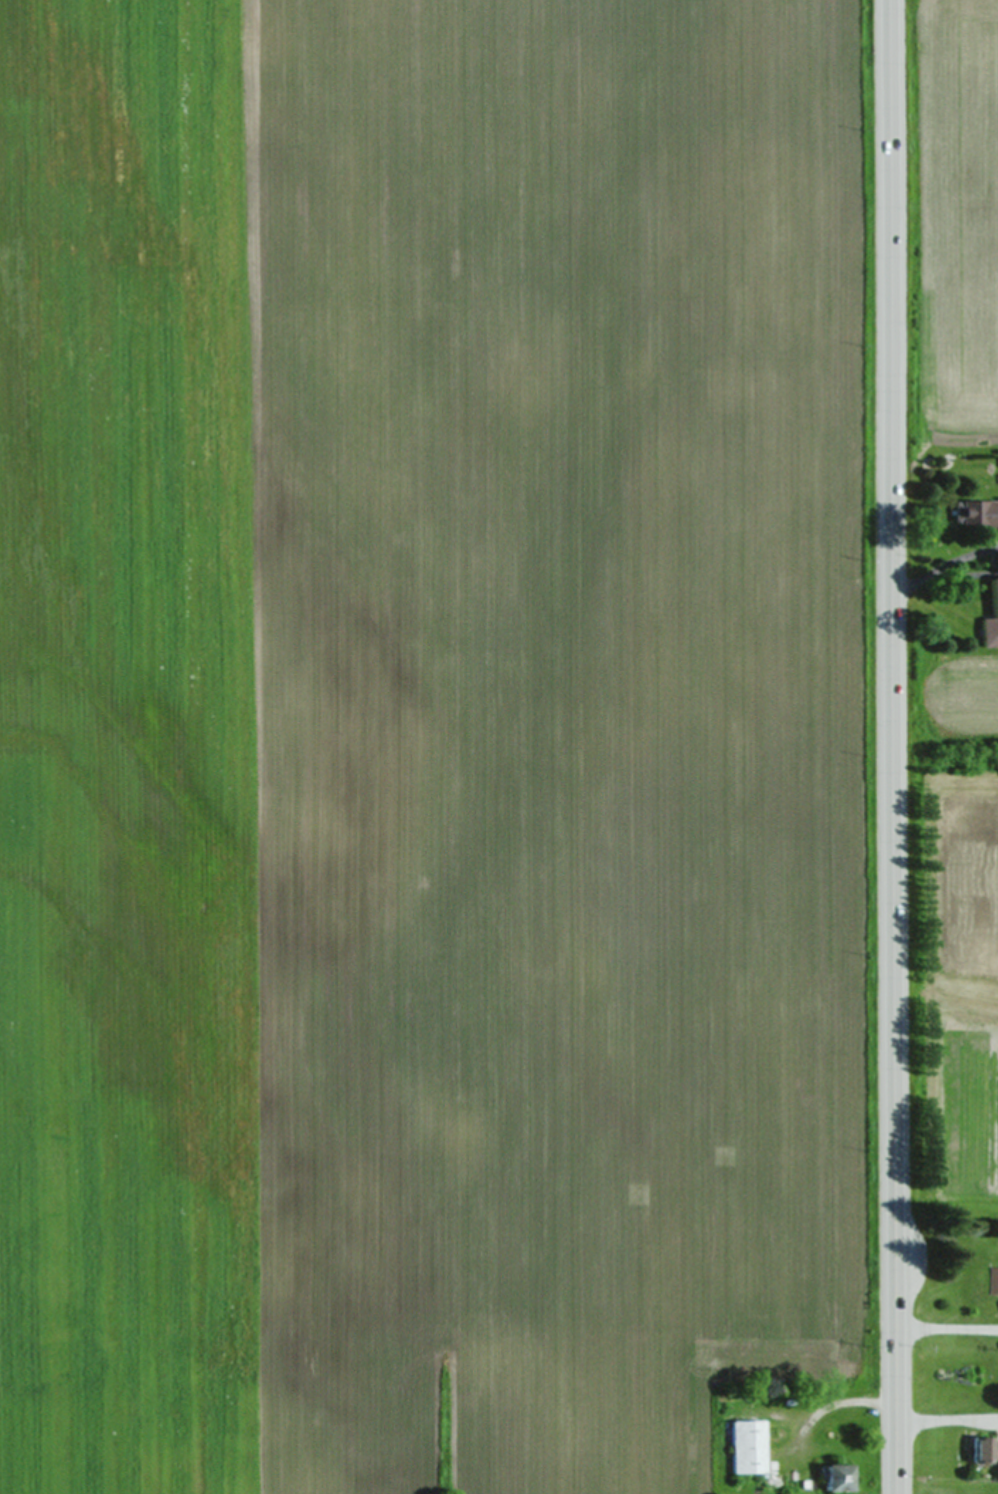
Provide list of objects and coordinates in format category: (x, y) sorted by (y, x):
building: (984, 512)
building: (992, 619)
road: (895, 746)
crop: (954, 1116)
building: (992, 1280)
road: (948, 1419)
building: (747, 1447)
building: (983, 1450)
building: (836, 1478)

